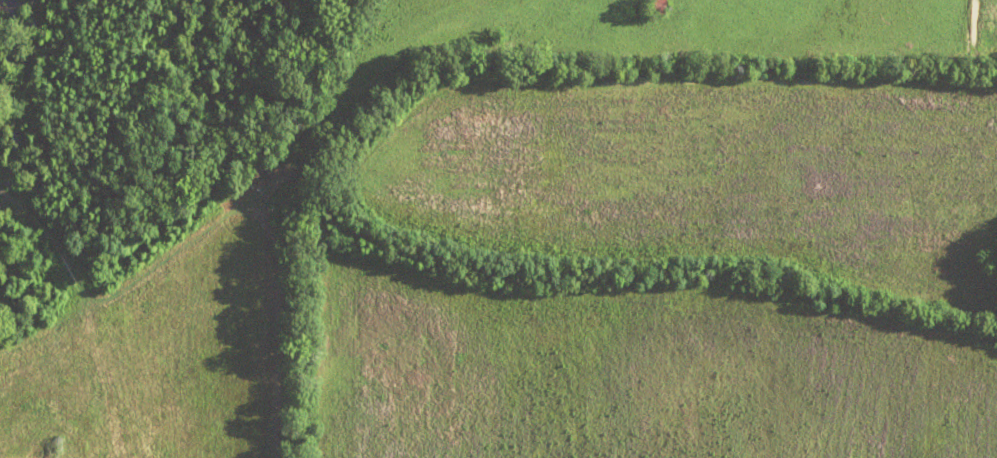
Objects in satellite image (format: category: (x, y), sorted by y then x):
building: (656, 6)

